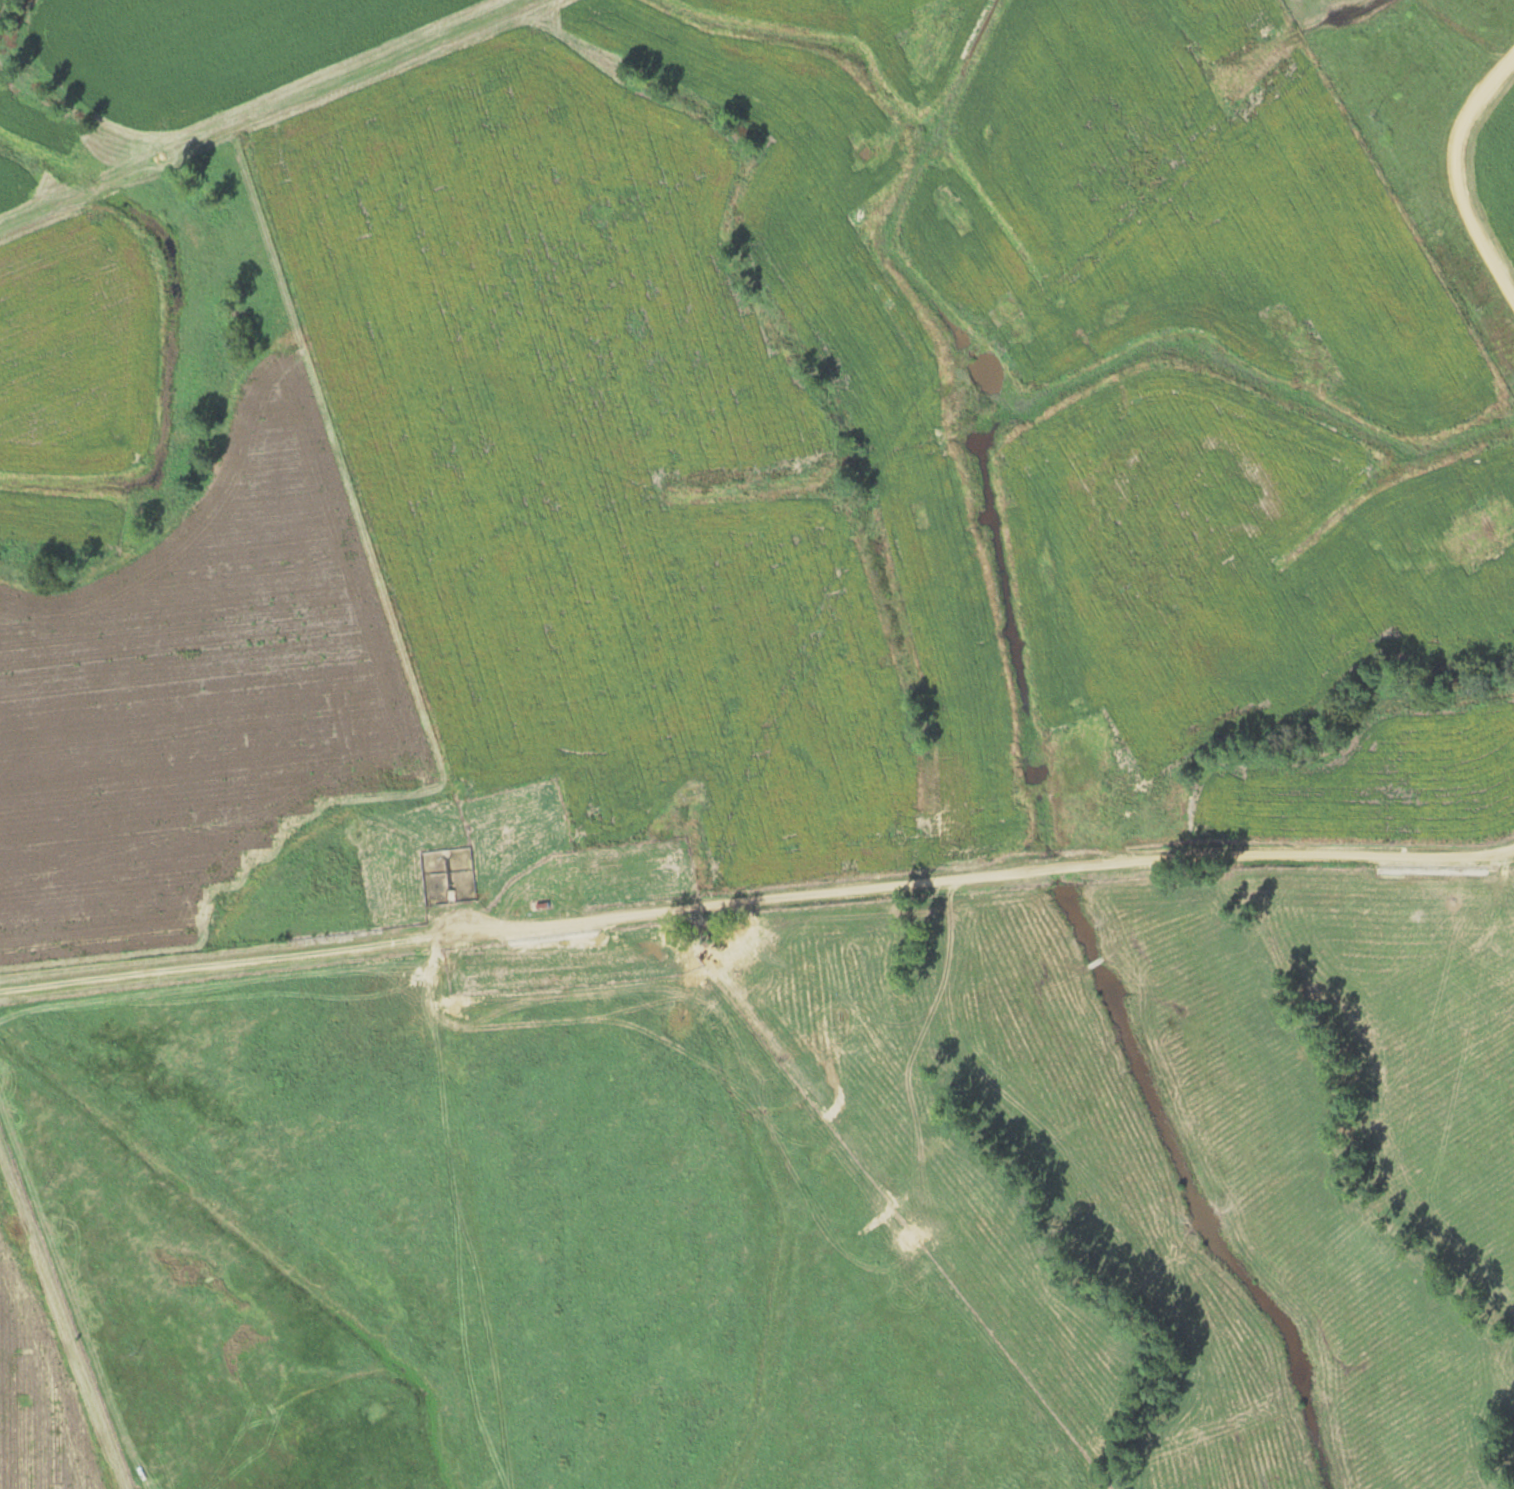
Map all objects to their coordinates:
building: (554, 900)
road: (758, 911)

